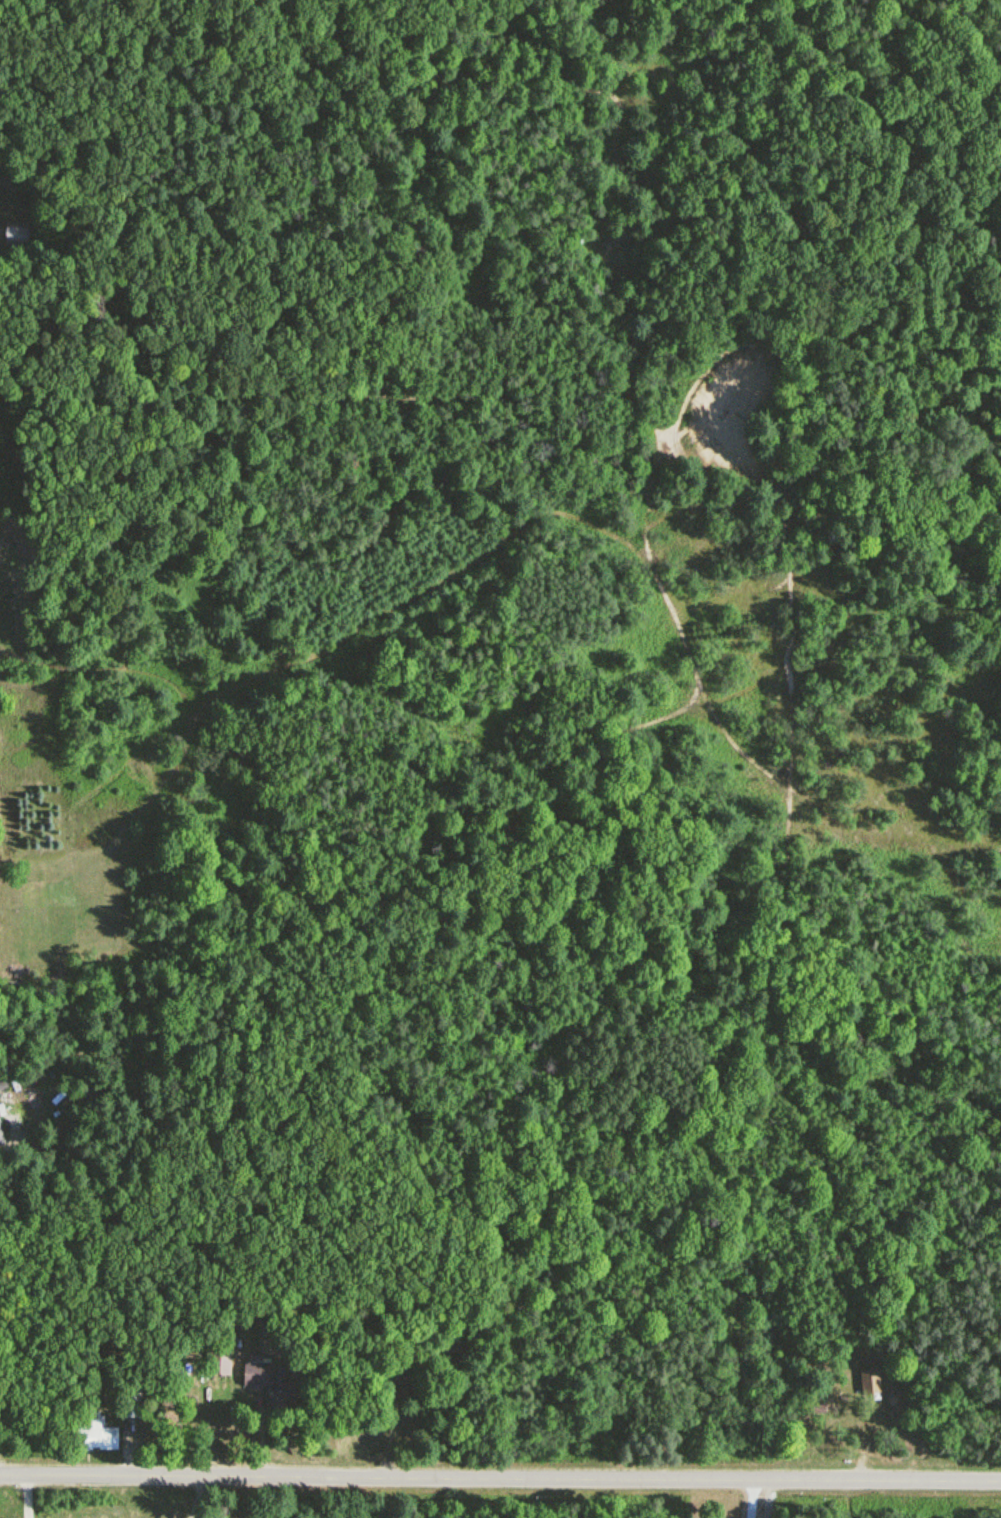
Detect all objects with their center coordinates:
building: (16, 237)
building: (456, 1347)
building: (219, 1360)
building: (270, 1382)
building: (397, 1382)
building: (870, 1383)
building: (130, 1403)
building: (95, 1435)
road: (500, 1476)

